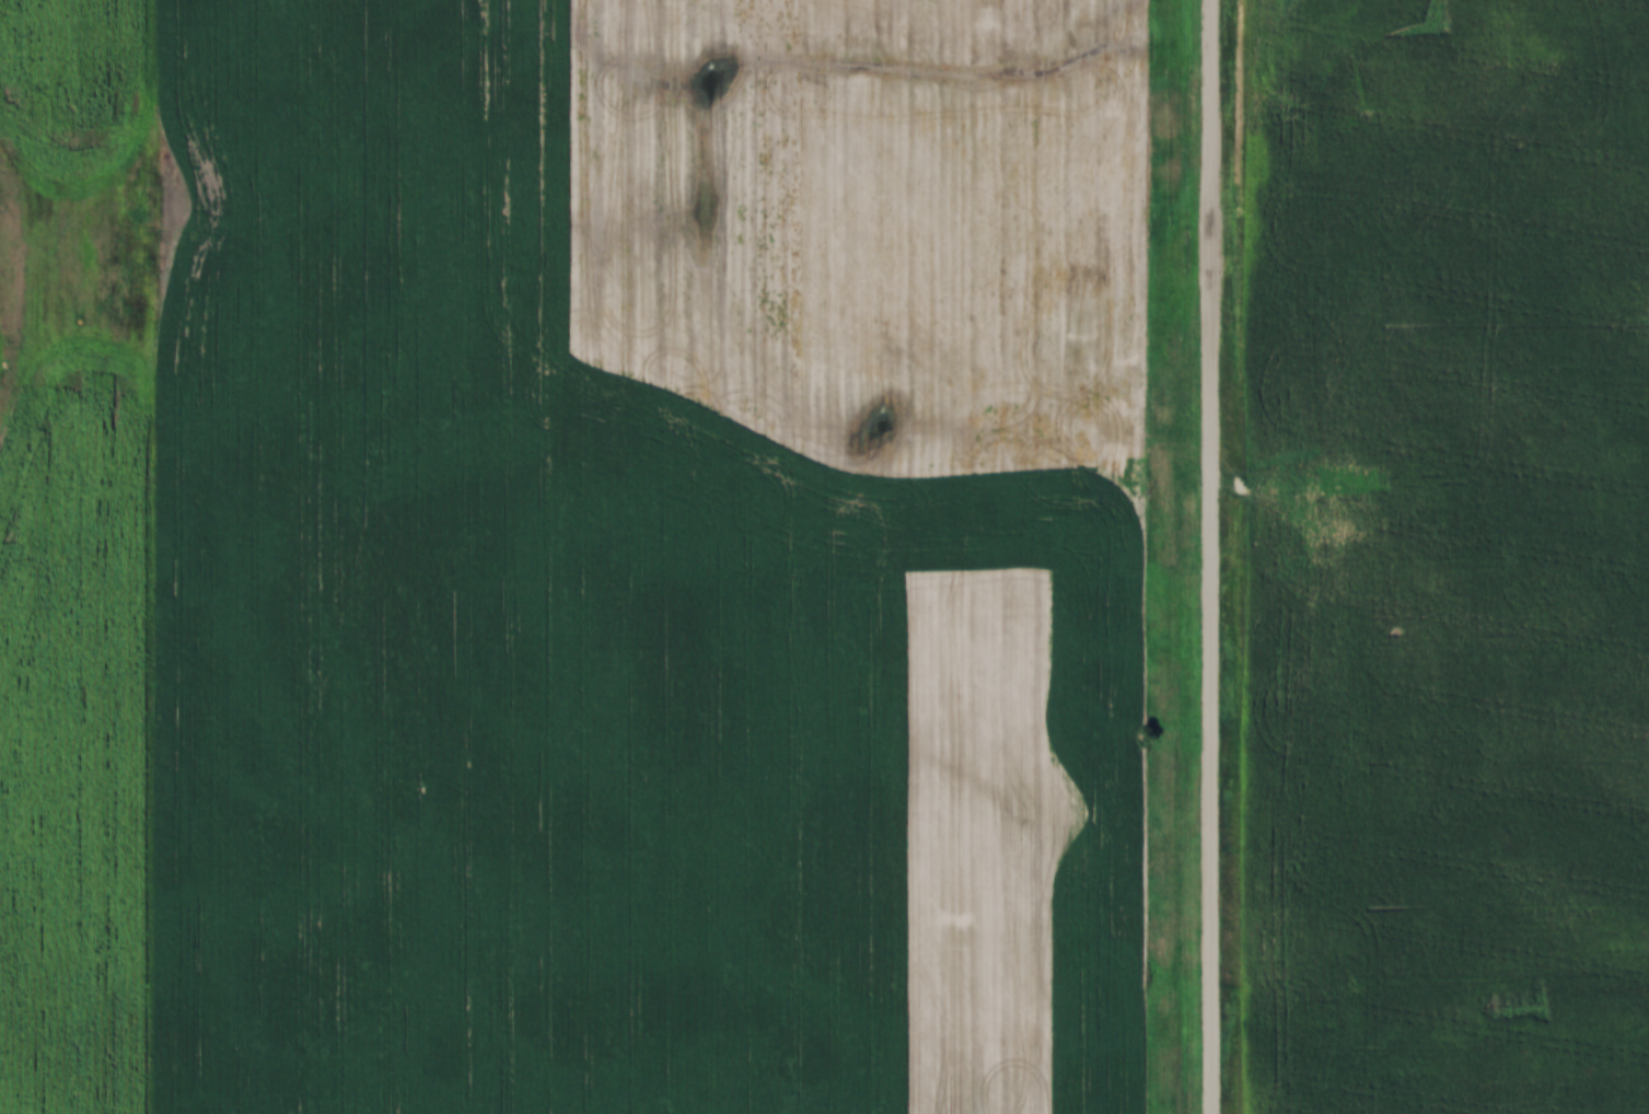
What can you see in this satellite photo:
road: (1217, 556)

